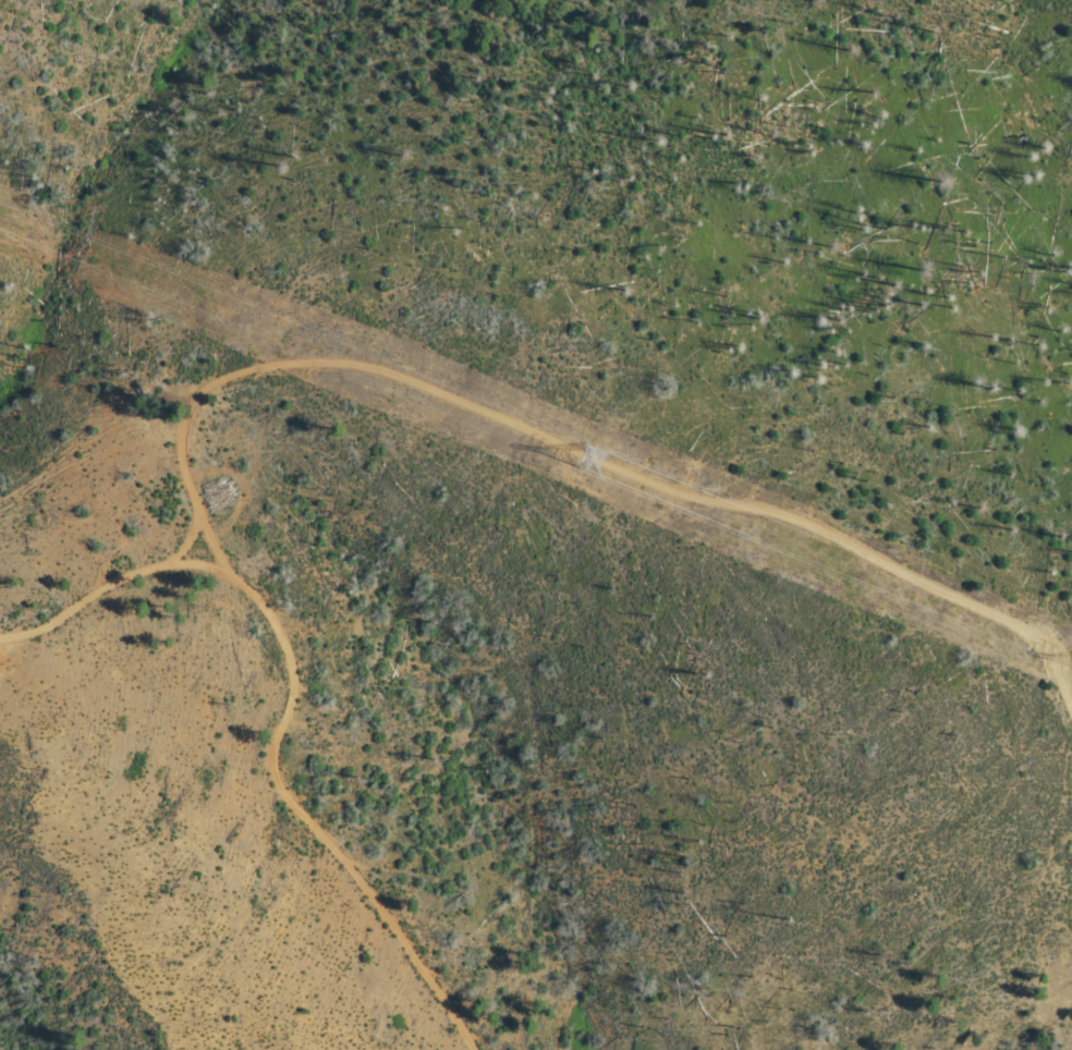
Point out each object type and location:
road: (572, 447)
power tower: (592, 460)
road: (186, 540)
road: (282, 709)

